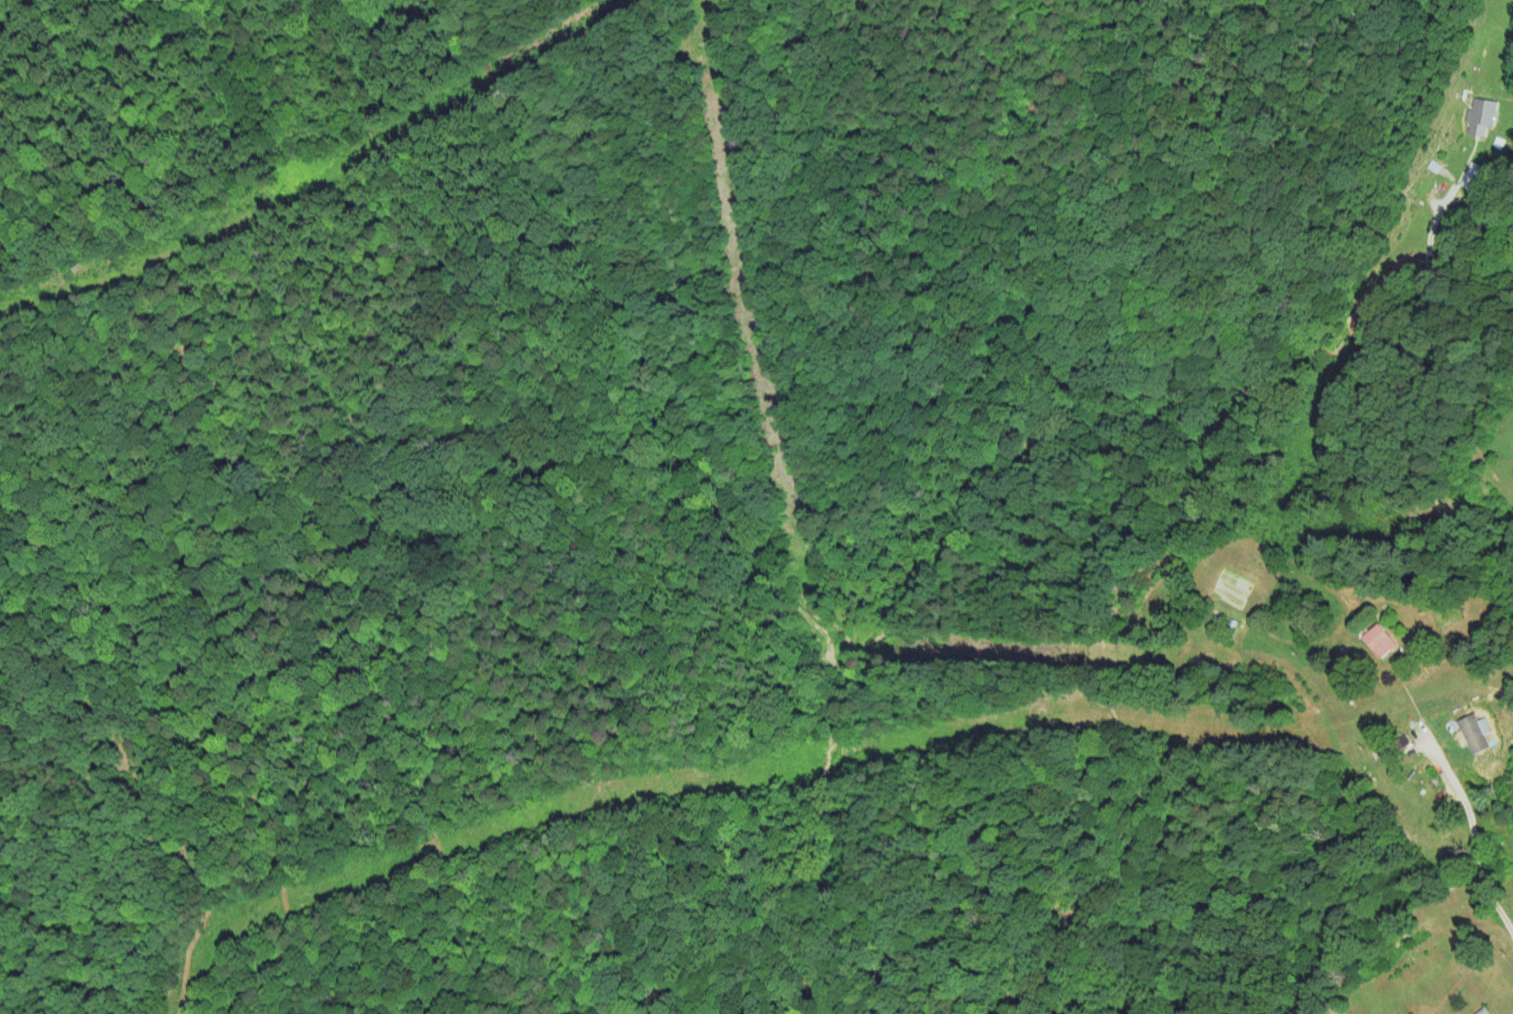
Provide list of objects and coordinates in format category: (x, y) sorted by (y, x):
building: (1480, 115)
building: (1471, 175)
road: (1364, 388)
building: (1379, 640)
building: (1473, 733)
road: (1474, 837)
building: (1483, 1011)

